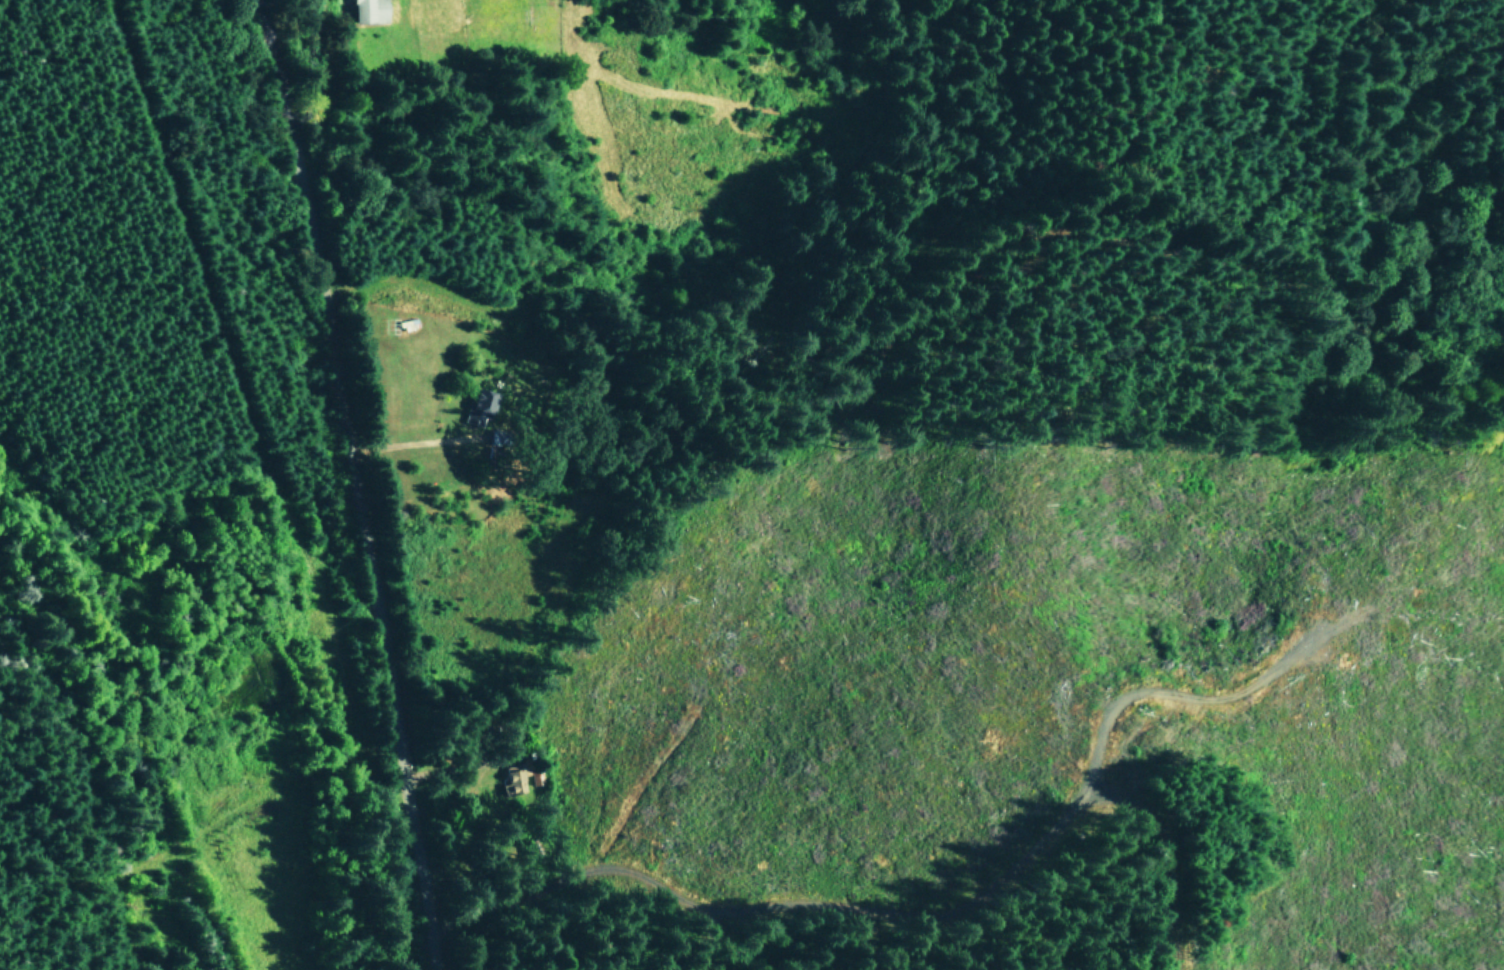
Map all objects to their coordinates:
building: (481, 406)
building: (499, 436)
road: (411, 442)
road: (350, 483)
building: (517, 778)

